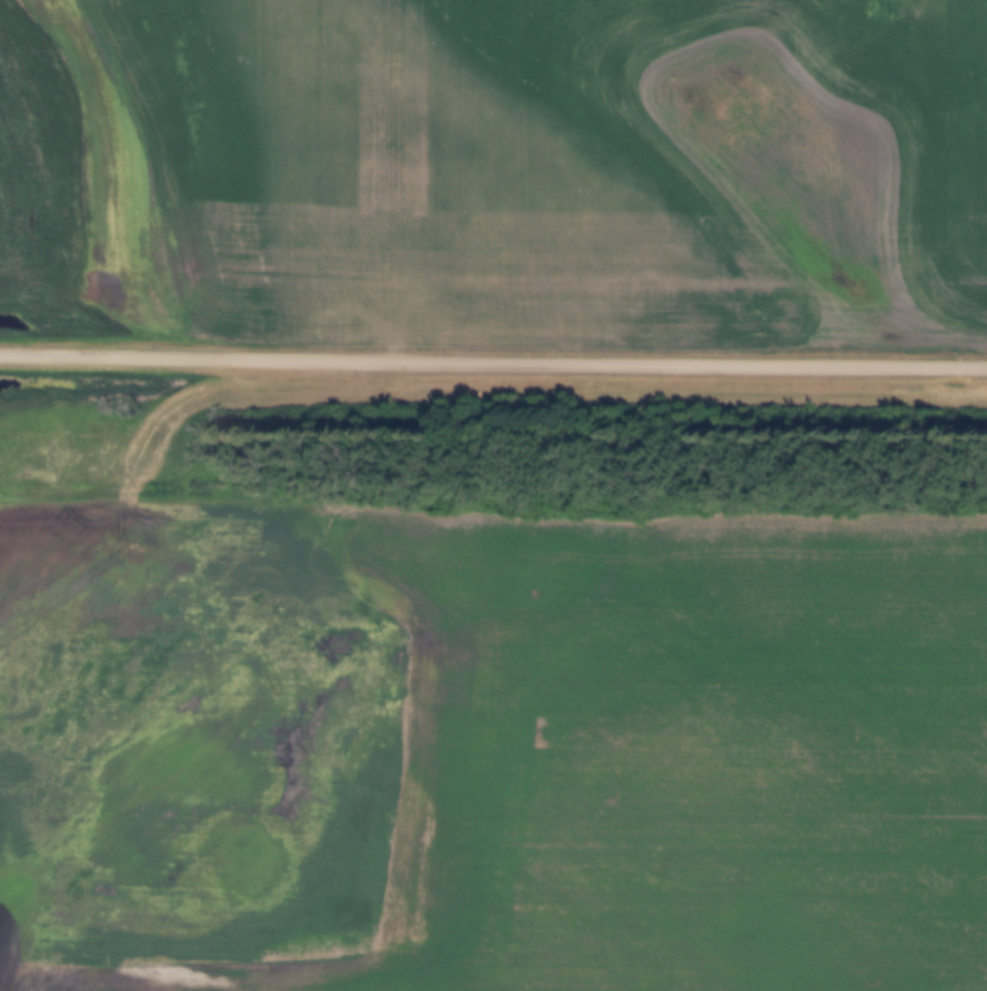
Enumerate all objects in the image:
road: (493, 361)

